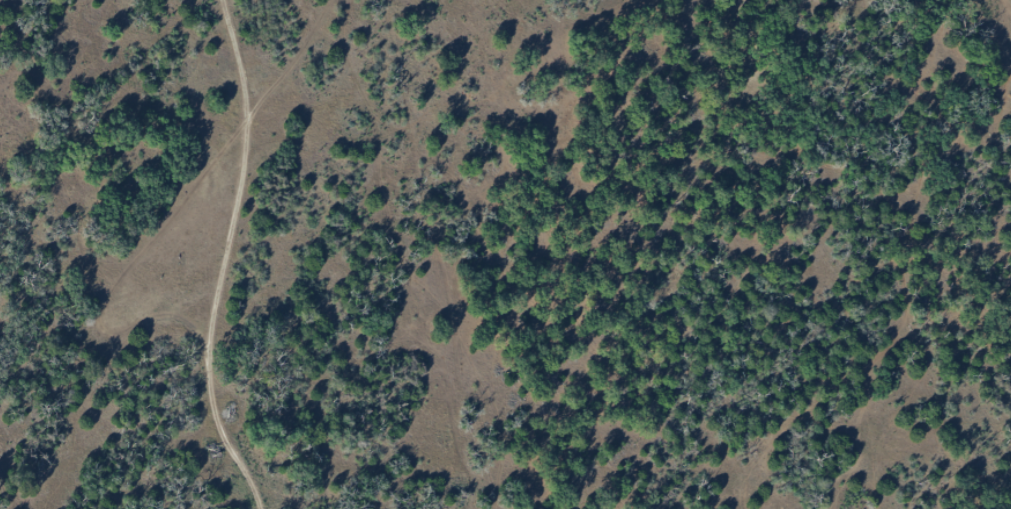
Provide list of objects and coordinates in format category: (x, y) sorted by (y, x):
road: (231, 258)

